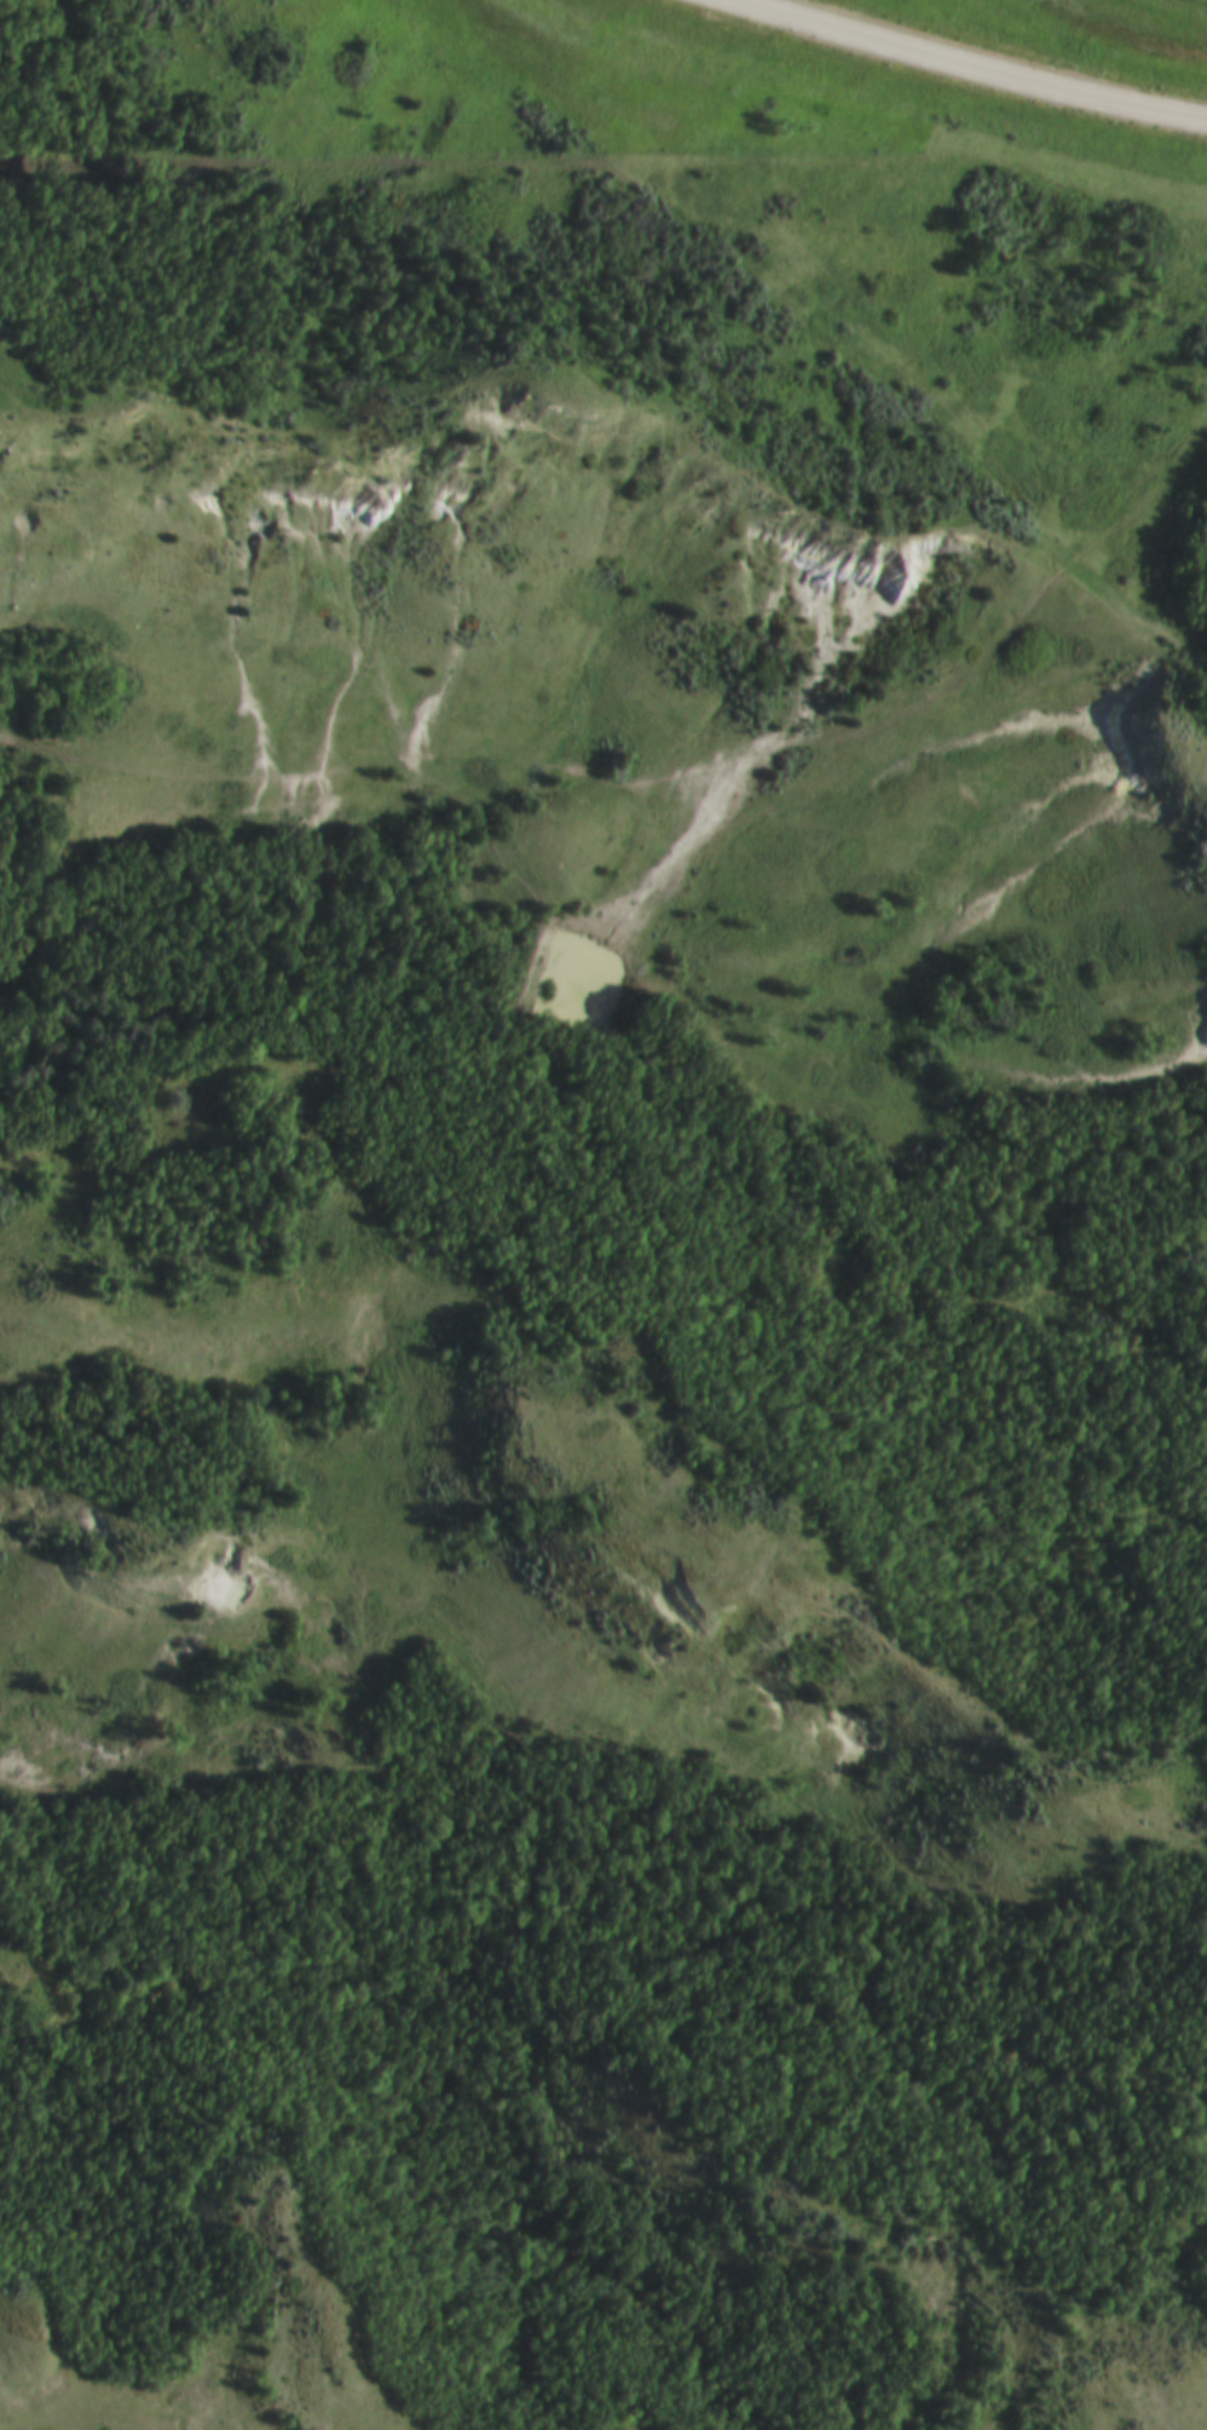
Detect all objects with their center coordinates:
road: (885, 42)
road: (1121, 106)

